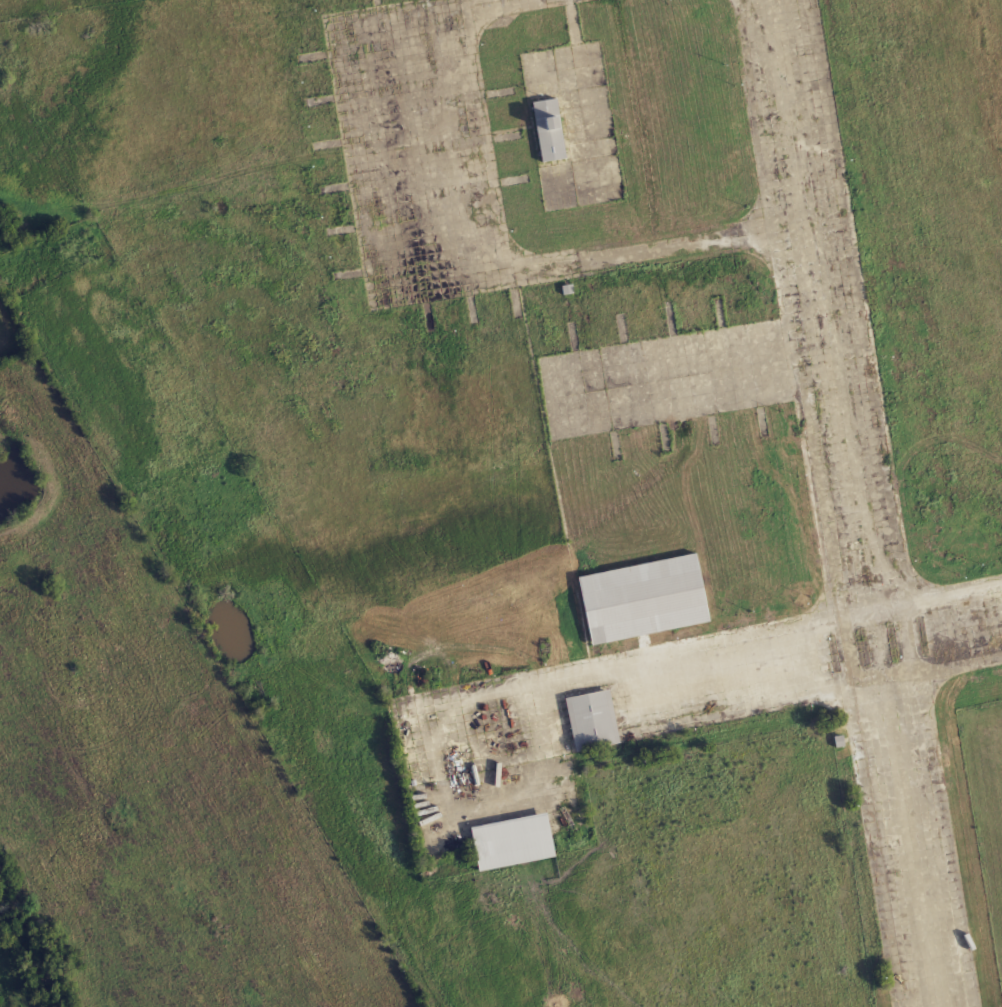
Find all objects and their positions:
building: (646, 599)
building: (594, 720)

